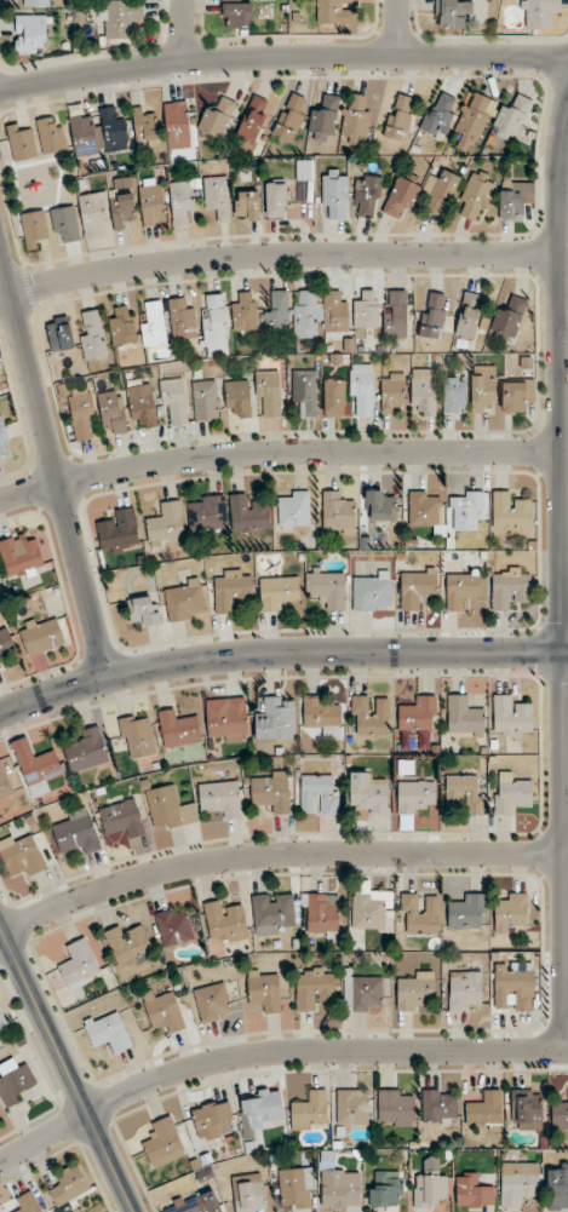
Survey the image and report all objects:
building: (36, 2)
building: (337, 12)
building: (539, 12)
building: (236, 13)
building: (453, 13)
building: (119, 17)
road: (398, 27)
road: (184, 30)
building: (30, 34)
road: (282, 54)
building: (440, 114)
building: (289, 117)
building: (398, 117)
building: (253, 119)
building: (355, 119)
building: (511, 119)
building: (323, 120)
building: (216, 121)
building: (474, 121)
building: (177, 125)
building: (145, 128)
building: (113, 131)
building: (86, 136)
building: (51, 137)
building: (21, 144)
road: (563, 167)
building: (304, 171)
building: (441, 191)
building: (334, 194)
building: (217, 196)
building: (366, 196)
building: (401, 196)
building: (475, 196)
building: (514, 199)
building: (276, 200)
building: (182, 201)
building: (151, 202)
building: (247, 206)
building: (121, 209)
building: (93, 213)
building: (65, 222)
building: (34, 229)
road: (276, 254)
building: (366, 309)
building: (334, 311)
building: (245, 312)
building: (277, 312)
building: (306, 314)
building: (395, 314)
building: (432, 316)
building: (469, 316)
building: (507, 320)
building: (183, 321)
building: (153, 324)
building: (122, 327)
building: (216, 328)
building: (59, 334)
building: (92, 335)
building: (361, 389)
building: (483, 389)
building: (305, 391)
building: (392, 391)
building: (424, 391)
building: (268, 394)
building: (455, 395)
building: (516, 395)
building: (334, 398)
building: (237, 400)
building: (206, 401)
building: (173, 402)
building: (143, 407)
building: (111, 413)
building: (82, 414)
road: (276, 453)
road: (52, 467)
building: (380, 506)
building: (293, 509)
building: (424, 510)
building: (465, 510)
building: (510, 512)
building: (206, 513)
building: (337, 513)
building: (247, 515)
building: (166, 523)
building: (119, 533)
building: (21, 555)
road: (561, 576)
building: (461, 587)
building: (231, 588)
building: (417, 588)
building: (510, 588)
building: (327, 590)
building: (372, 591)
building: (277, 592)
building: (184, 601)
building: (143, 611)
building: (40, 636)
building: (5, 643)
road: (280, 654)
building: (322, 716)
building: (369, 716)
building: (418, 716)
building: (464, 717)
building: (511, 717)
building: (275, 719)
building: (226, 720)
building: (177, 729)
building: (137, 736)
building: (86, 751)
building: (39, 770)
building: (5, 787)
building: (270, 791)
building: (465, 792)
building: (368, 793)
building: (510, 793)
building: (319, 794)
building: (220, 799)
building: (413, 800)
building: (168, 809)
building: (122, 818)
building: (78, 833)
building: (21, 856)
road: (276, 856)
building: (369, 906)
building: (466, 912)
building: (321, 913)
building: (272, 914)
building: (420, 914)
building: (511, 914)
building: (224, 923)
building: (173, 926)
building: (128, 946)
building: (79, 964)
building: (314, 987)
building: (514, 988)
building: (414, 990)
building: (264, 992)
building: (464, 992)
building: (362, 994)
building: (212, 1003)
building: (165, 1011)
building: (2, 1019)
building: (108, 1033)
road: (270, 1052)
road: (68, 1068)
building: (16, 1082)
building: (438, 1105)
building: (352, 1107)
building: (395, 1108)
building: (263, 1109)
building: (527, 1110)
building: (309, 1112)
building: (484, 1112)
building: (560, 1114)
building: (213, 1120)
building: (162, 1143)
building: (518, 1184)
building: (69, 1185)
building: (297, 1187)
building: (430, 1187)
building: (557, 1187)
building: (340, 1188)
building: (385, 1190)
building: (474, 1191)
building: (249, 1193)
building: (197, 1202)
building: (27, 1204)

